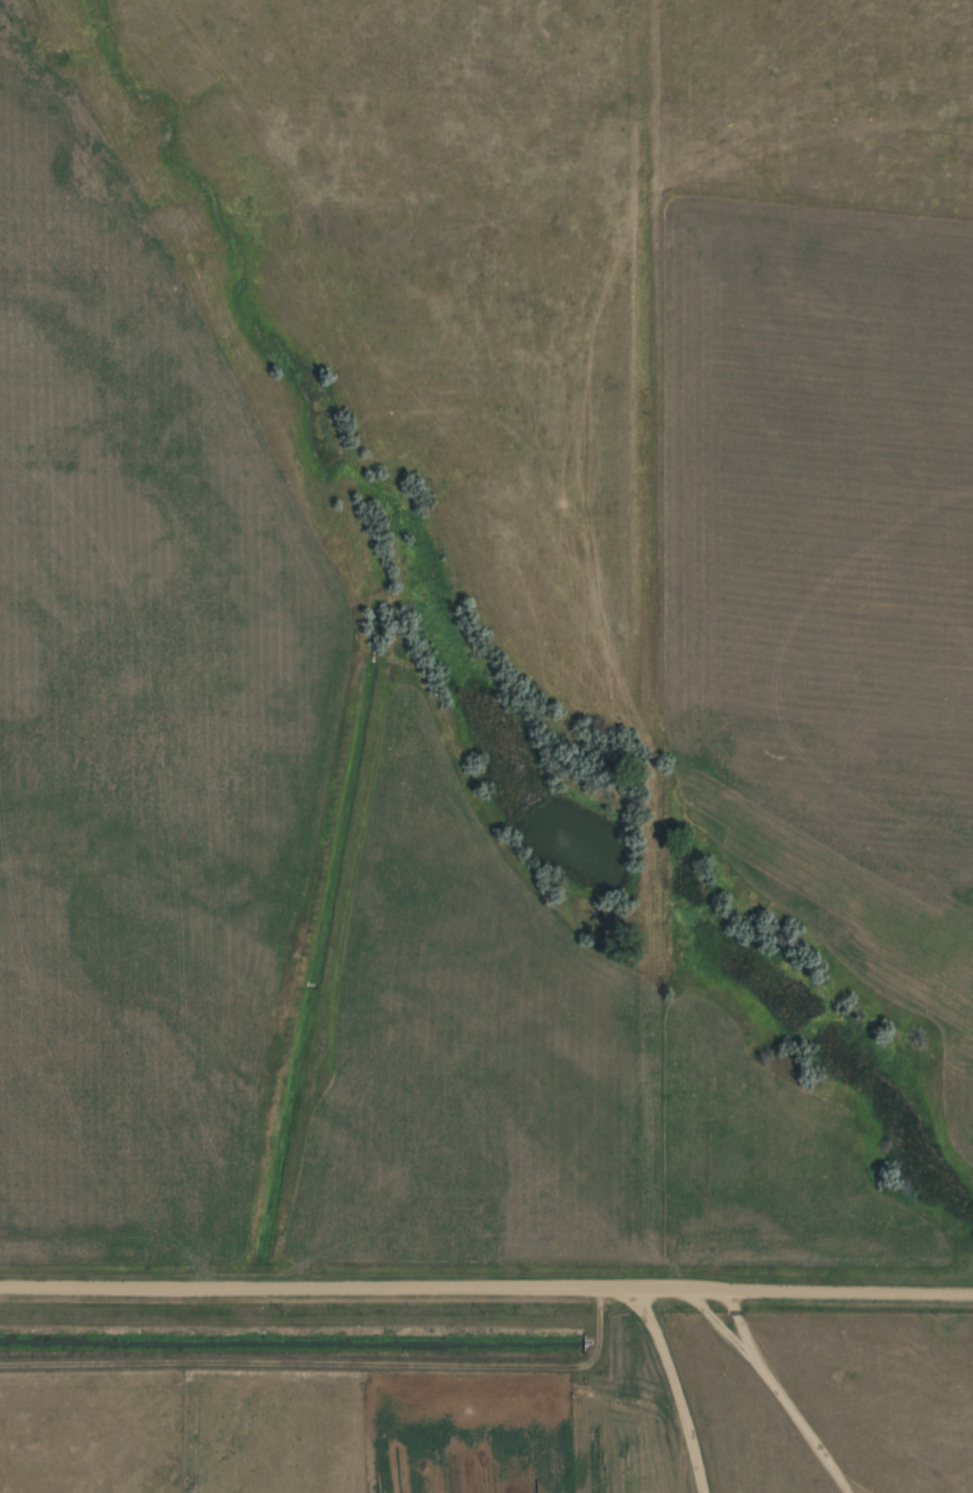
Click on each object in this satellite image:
road: (486, 1294)
road: (713, 1398)

